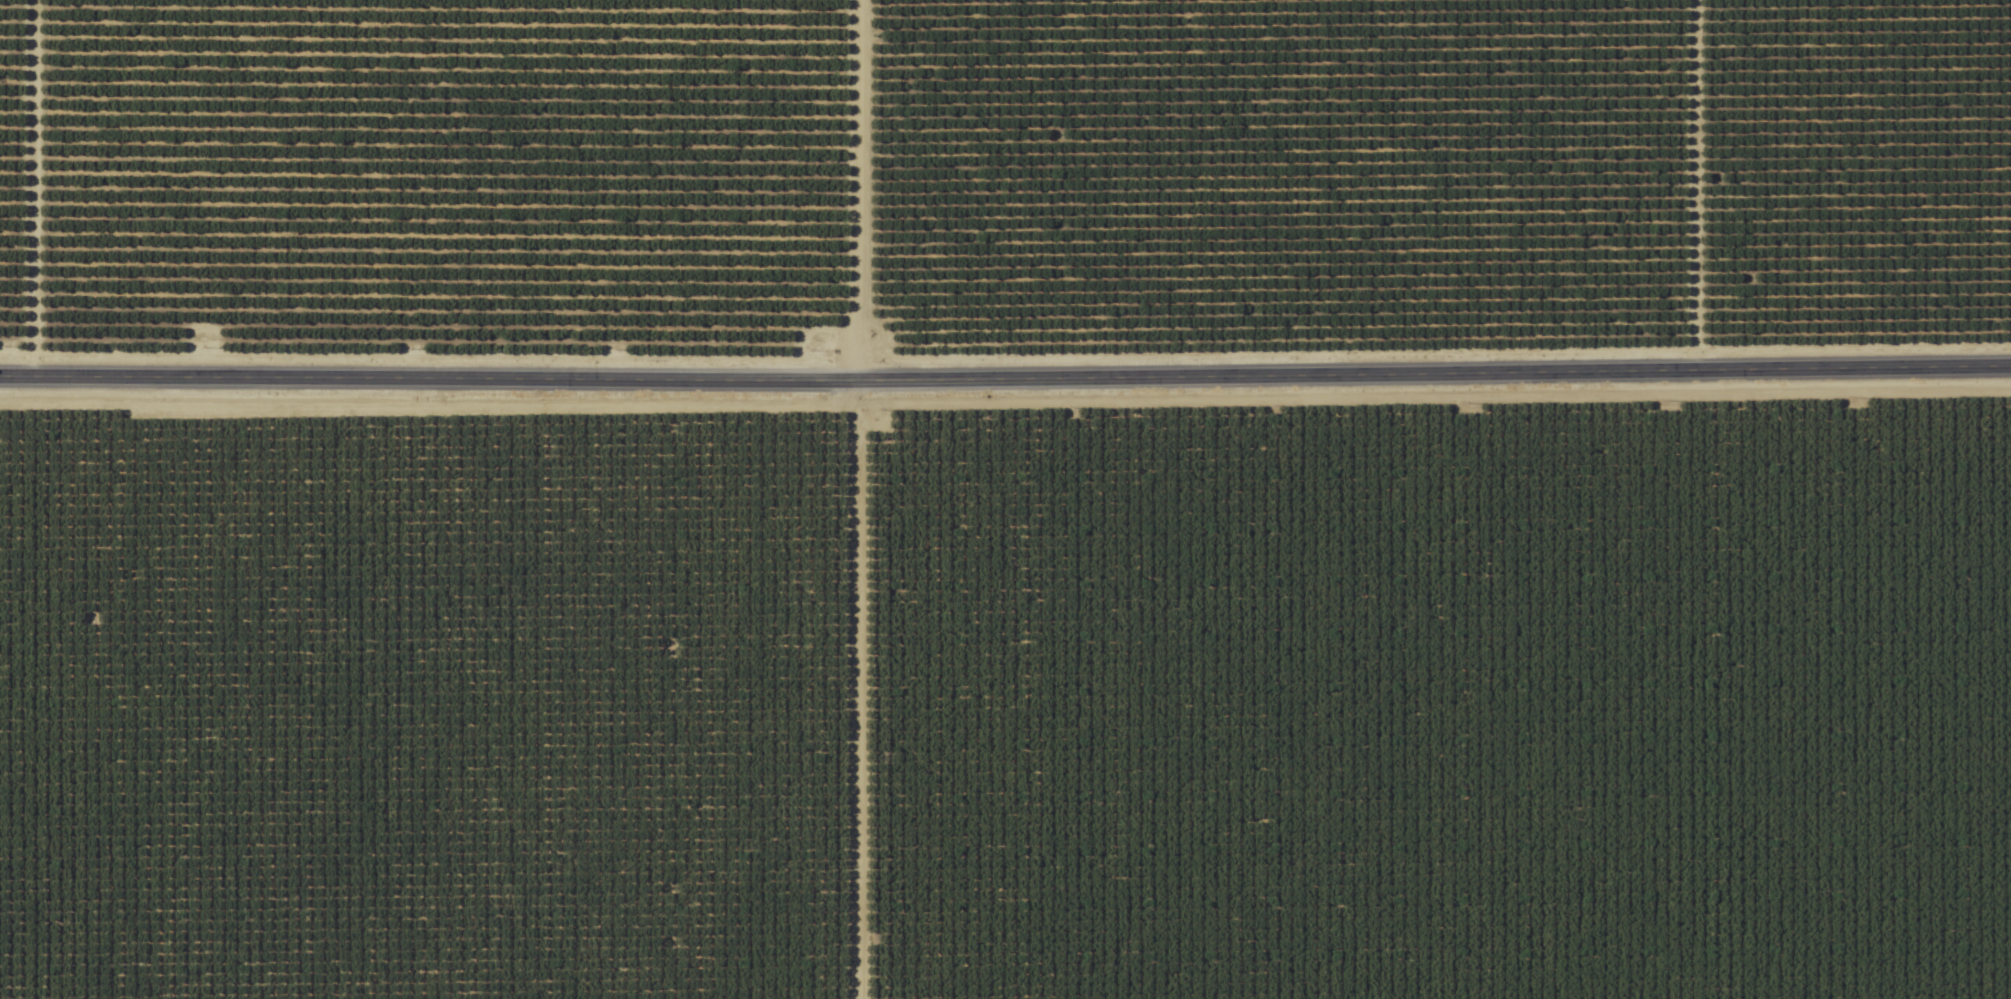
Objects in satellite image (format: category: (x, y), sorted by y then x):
crop: (999, 178)
road: (1692, 182)
road: (1005, 379)
crop: (1005, 499)
road: (859, 690)
crop: (1008, 702)

